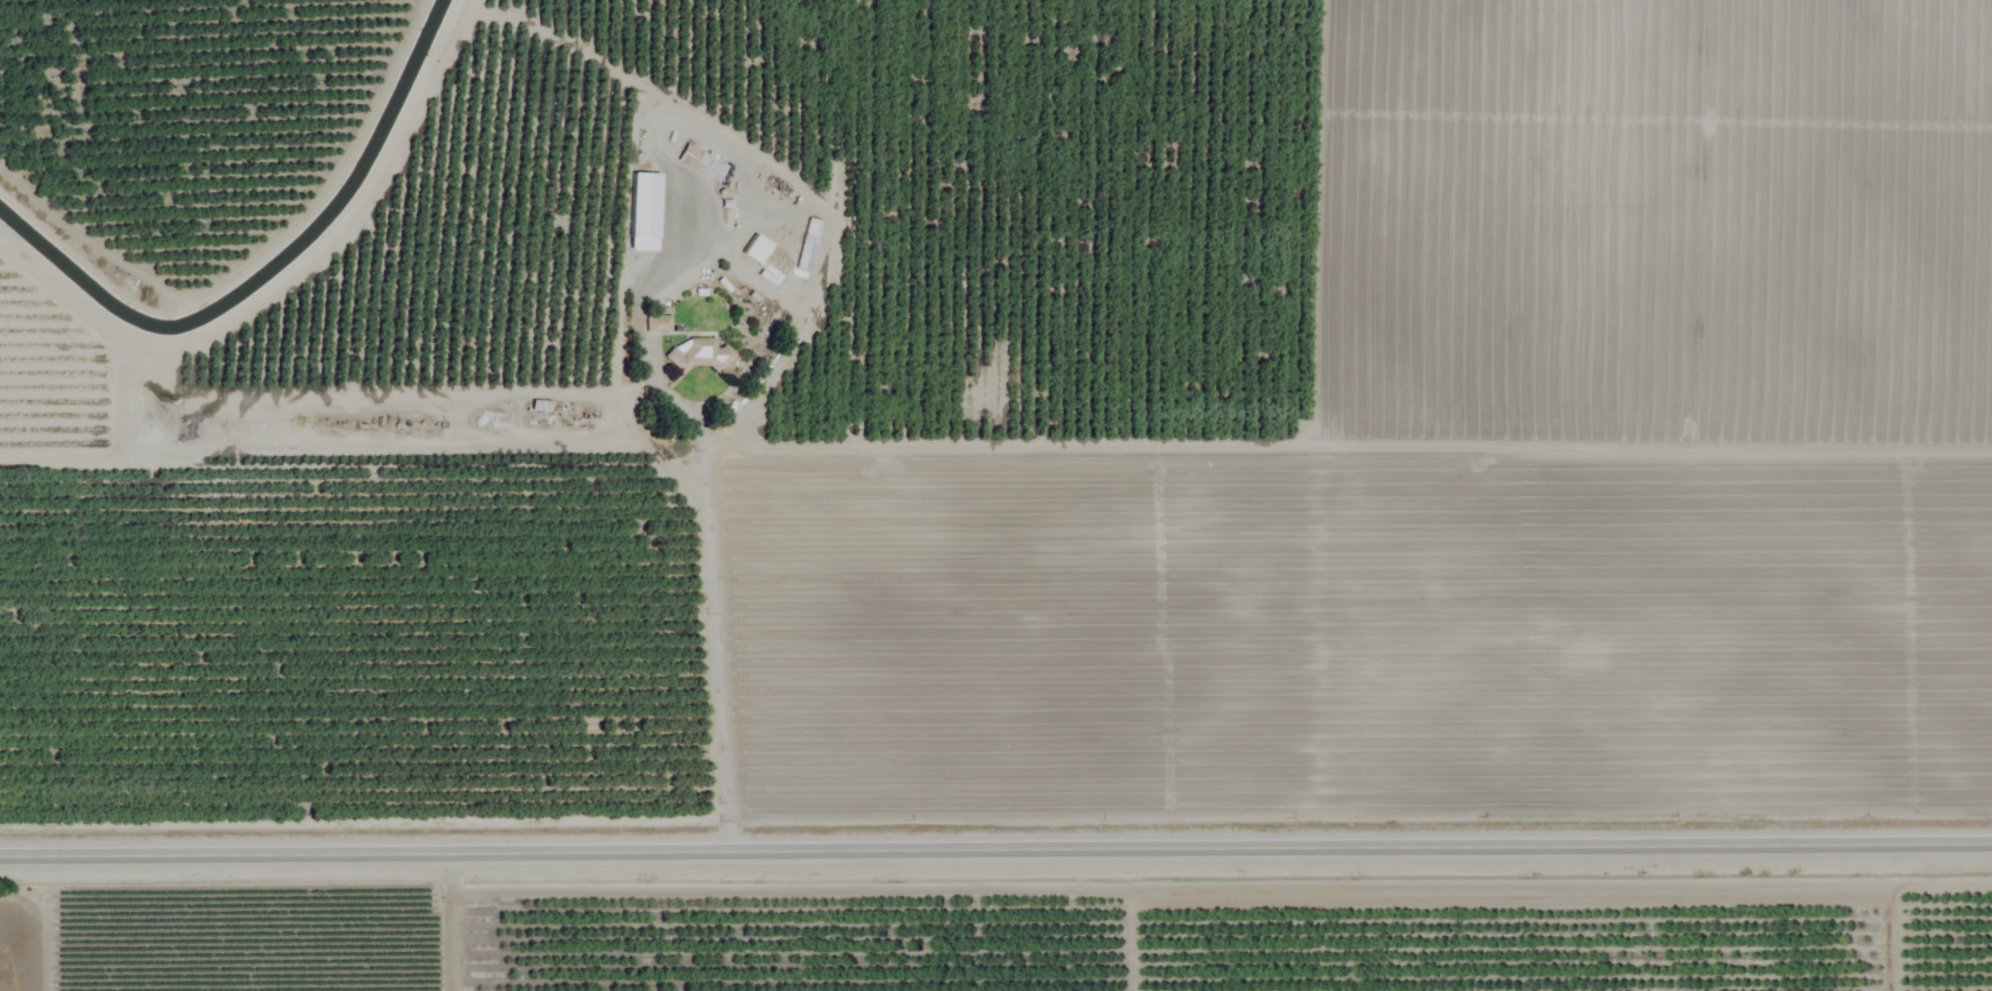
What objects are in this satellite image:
building: (701, 161)
building: (644, 210)
building: (807, 242)
building: (657, 321)
building: (700, 353)
crop: (990, 410)
road: (1185, 445)
road: (716, 671)
road: (996, 850)
crop: (1030, 938)

